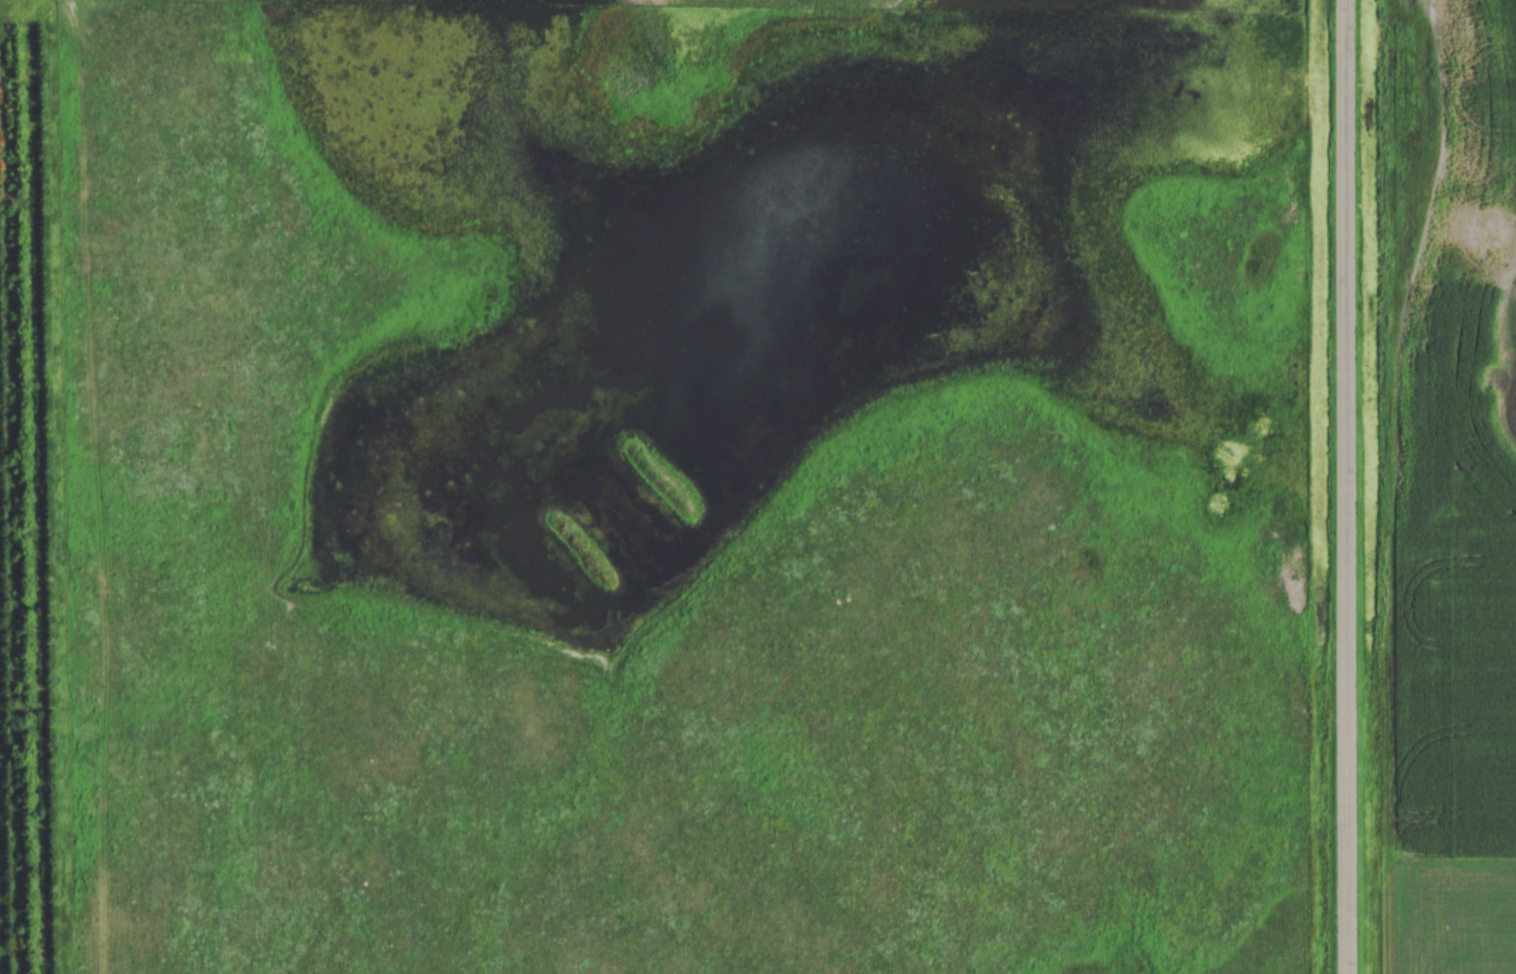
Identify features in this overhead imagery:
road: (1350, 486)

